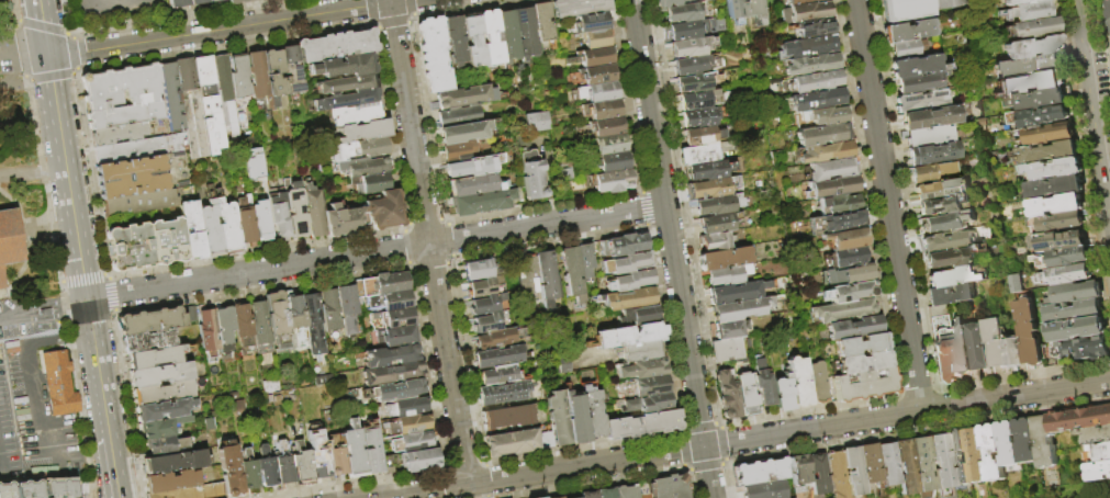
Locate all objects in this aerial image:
building: (250, 0)
building: (702, 0)
building: (706, 0)
building: (1108, 0)
building: (213, 1)
building: (235, 1)
road: (389, 1)
road: (397, 1)
building: (197, 2)
building: (666, 2)
building: (796, 2)
building: (1022, 2)
building: (177, 3)
building: (110, 5)
road: (411, 7)
road: (462, 8)
building: (578, 8)
building: (912, 8)
road: (298, 9)
building: (1108, 9)
road: (366, 10)
building: (736, 10)
building: (754, 11)
building: (1031, 11)
road: (15, 13)
building: (683, 13)
building: (803, 13)
road: (177, 16)
road: (67, 19)
road: (408, 22)
building: (541, 22)
building: (1109, 22)
building: (591, 23)
road: (392, 25)
road: (41, 26)
road: (42, 26)
road: (372, 26)
building: (1034, 29)
road: (218, 30)
building: (688, 30)
building: (810, 30)
building: (911, 31)
building: (524, 32)
building: (506, 34)
building: (452, 38)
building: (490, 39)
building: (596, 39)
building: (472, 41)
road: (1102, 42)
building: (334, 44)
road: (224, 47)
building: (691, 47)
building: (805, 47)
building: (1034, 47)
building: (909, 49)
road: (19, 50)
road: (23, 53)
road: (72, 53)
building: (434, 53)
traffic signals: (47, 54)
building: (594, 57)
building: (340, 65)
building: (693, 66)
building: (809, 66)
building: (1030, 66)
building: (916, 67)
building: (289, 68)
building: (271, 71)
road: (72, 73)
building: (254, 73)
building: (236, 75)
building: (594, 75)
road: (49, 77)
road: (13, 82)
building: (343, 82)
building: (812, 82)
building: (694, 83)
building: (920, 83)
building: (1032, 84)
building: (598, 92)
building: (221, 93)
building: (100, 94)
road: (1095, 94)
building: (463, 97)
road: (626, 97)
building: (345, 98)
building: (702, 100)
building: (814, 100)
building: (1041, 100)
building: (923, 101)
building: (204, 103)
building: (187, 105)
building: (602, 109)
building: (171, 110)
building: (351, 113)
road: (425, 115)
building: (458, 116)
building: (818, 117)
building: (1042, 117)
building: (699, 118)
building: (931, 118)
building: (535, 121)
road: (390, 126)
building: (606, 126)
building: (360, 129)
building: (120, 132)
building: (463, 132)
building: (1050, 135)
building: (702, 136)
building: (820, 136)
building: (931, 136)
building: (609, 144)
building: (354, 147)
building: (130, 150)
building: (458, 151)
building: (1051, 152)
road: (1085, 152)
building: (822, 154)
building: (699, 155)
building: (933, 155)
building: (612, 162)
building: (250, 163)
building: (361, 165)
building: (474, 167)
road: (32, 170)
road: (88, 170)
building: (829, 170)
building: (1057, 170)
building: (708, 171)
building: (932, 172)
building: (531, 176)
building: (132, 178)
building: (371, 181)
building: (612, 181)
building: (475, 185)
building: (1057, 188)
building: (709, 189)
building: (830, 189)
building: (941, 190)
road: (902, 194)
building: (964, 195)
road: (865, 197)
building: (139, 202)
building: (482, 202)
road: (542, 205)
building: (718, 205)
building: (837, 205)
building: (943, 205)
building: (1058, 205)
road: (887, 206)
building: (292, 208)
building: (381, 208)
road: (642, 208)
building: (311, 211)
road: (682, 212)
building: (276, 216)
road: (444, 218)
building: (243, 219)
building: (258, 219)
building: (343, 219)
road: (422, 220)
building: (949, 222)
building: (1061, 223)
building: (717, 224)
building: (831, 224)
road: (404, 225)
building: (224, 227)
building: (190, 228)
building: (208, 228)
building: (8, 238)
road: (448, 239)
building: (164, 240)
building: (841, 240)
building: (1062, 241)
road: (551, 242)
building: (716, 242)
road: (428, 244)
building: (620, 244)
building: (943, 244)
road: (77, 245)
building: (127, 246)
road: (404, 246)
road: (671, 249)
road: (256, 252)
road: (375, 252)
building: (845, 258)
building: (953, 258)
building: (1068, 258)
building: (725, 259)
road: (449, 260)
building: (583, 262)
building: (624, 262)
road: (430, 265)
road: (410, 267)
building: (475, 270)
building: (571, 273)
road: (105, 274)
building: (728, 275)
building: (848, 275)
building: (1069, 275)
building: (957, 276)
road: (81, 278)
building: (545, 278)
building: (527, 279)
building: (1, 280)
building: (628, 280)
road: (61, 282)
building: (1014, 283)
building: (381, 285)
road: (60, 286)
building: (481, 287)
road: (260, 288)
road: (110, 293)
building: (737, 293)
building: (848, 293)
building: (1077, 294)
building: (952, 295)
building: (625, 297)
road: (67, 299)
park: (29, 302)
building: (392, 302)
building: (484, 305)
building: (348, 309)
building: (740, 309)
road: (24, 310)
building: (43, 310)
building: (839, 312)
building: (1076, 312)
building: (330, 314)
building: (191, 315)
building: (638, 315)
road: (44, 317)
building: (295, 318)
building: (393, 320)
building: (153, 321)
building: (279, 321)
building: (484, 322)
building: (261, 324)
building: (314, 325)
building: (225, 328)
building: (244, 328)
road: (663, 328)
building: (851, 329)
building: (1079, 329)
building: (730, 330)
building: (210, 333)
building: (1031, 333)
building: (626, 335)
road: (77, 336)
building: (397, 337)
building: (493, 339)
building: (149, 341)
building: (998, 344)
building: (859, 346)
building: (943, 347)
building: (979, 347)
building: (962, 349)
building: (1085, 349)
building: (638, 350)
building: (726, 350)
building: (1017, 353)
building: (393, 356)
building: (497, 356)
building: (156, 358)
road: (463, 361)
building: (861, 363)
road: (426, 367)
building: (640, 367)
building: (394, 374)
building: (161, 375)
building: (497, 375)
road: (1022, 375)
road: (30, 380)
building: (798, 382)
building: (56, 383)
building: (763, 384)
building: (817, 384)
building: (647, 385)
building: (862, 386)
building: (397, 391)
road: (934, 391)
building: (164, 393)
building: (503, 393)
building: (783, 394)
road: (917, 394)
building: (728, 395)
building: (745, 395)
road: (899, 395)
road: (125, 403)
building: (646, 403)
building: (407, 408)
road: (808, 409)
building: (162, 411)
building: (591, 412)
building: (507, 417)
building: (573, 417)
building: (556, 418)
building: (1080, 419)
building: (639, 423)
road: (715, 423)
building: (408, 425)
road: (719, 426)
road: (698, 427)
building: (162, 428)
road: (680, 429)
road: (917, 430)
parking lot: (7, 432)
building: (1095, 434)
road: (749, 439)
building: (1027, 441)
building: (413, 442)
building: (1045, 442)
building: (511, 443)
road: (722, 443)
building: (1009, 443)
building: (166, 445)
road: (582, 448)
road: (681, 450)
building: (354, 451)
building: (371, 451)
building: (1100, 452)
building: (994, 453)
building: (976, 455)
building: (317, 456)
road: (76, 457)
building: (337, 457)
building: (957, 457)
building: (418, 461)
road: (725, 461)
road: (481, 462)
building: (176, 463)
building: (922, 463)
building: (302, 464)
road: (460, 464)
road: (722, 464)
building: (388, 465)
building: (870, 465)
building: (887, 465)
building: (941, 465)
road: (113, 466)
building: (283, 466)
building: (906, 466)
road: (683, 467)
road: (704, 467)
building: (267, 468)
road: (440, 468)
road: (687, 471)
building: (852, 471)
building: (1099, 471)
building: (759, 472)
building: (228, 473)
building: (248, 473)
building: (798, 473)
building: (817, 474)
building: (837, 475)
road: (56, 477)
road: (484, 480)
road: (727, 480)
building: (172, 482)
road: (588, 483)
road: (357, 484)
road: (687, 484)
road: (442, 485)
building: (666, 487)
building: (763, 489)
building: (40, 490)
park: (1079, 490)
road: (1108, 490)
building: (624, 491)
building: (188, 493)
building: (603, 493)
building: (586, 494)
road: (485, 497)
building: (538, 497)
building: (557, 497)
building: (574, 497)

